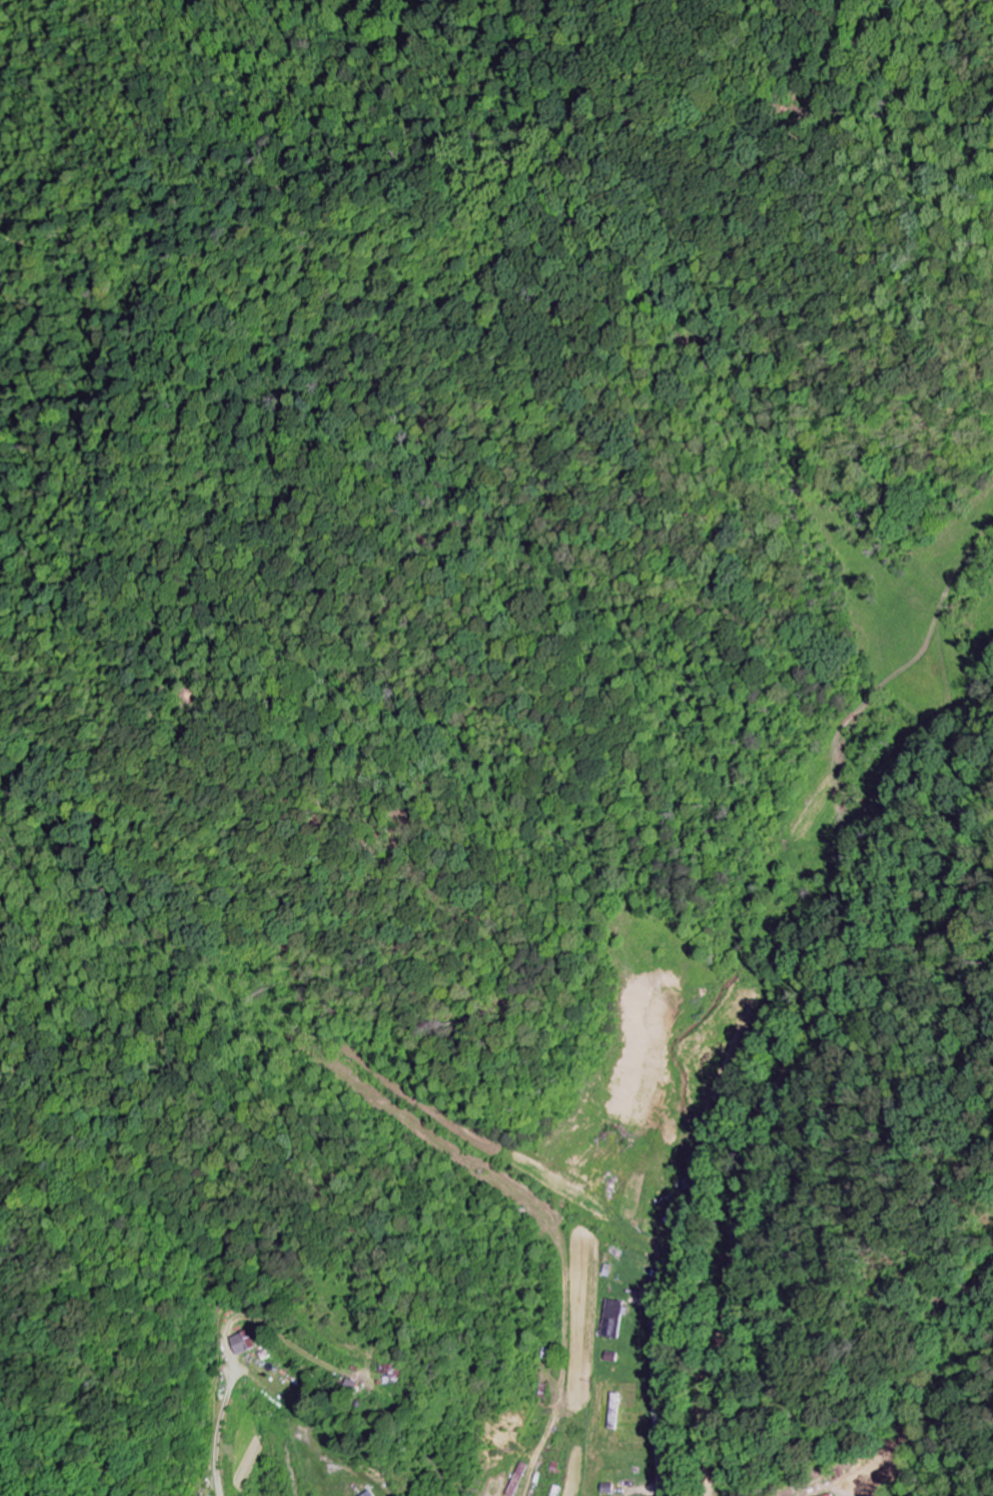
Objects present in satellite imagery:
building: (616, 1315)
building: (243, 1344)
building: (393, 1369)
road: (656, 1390)
building: (278, 1494)
building: (838, 1495)

